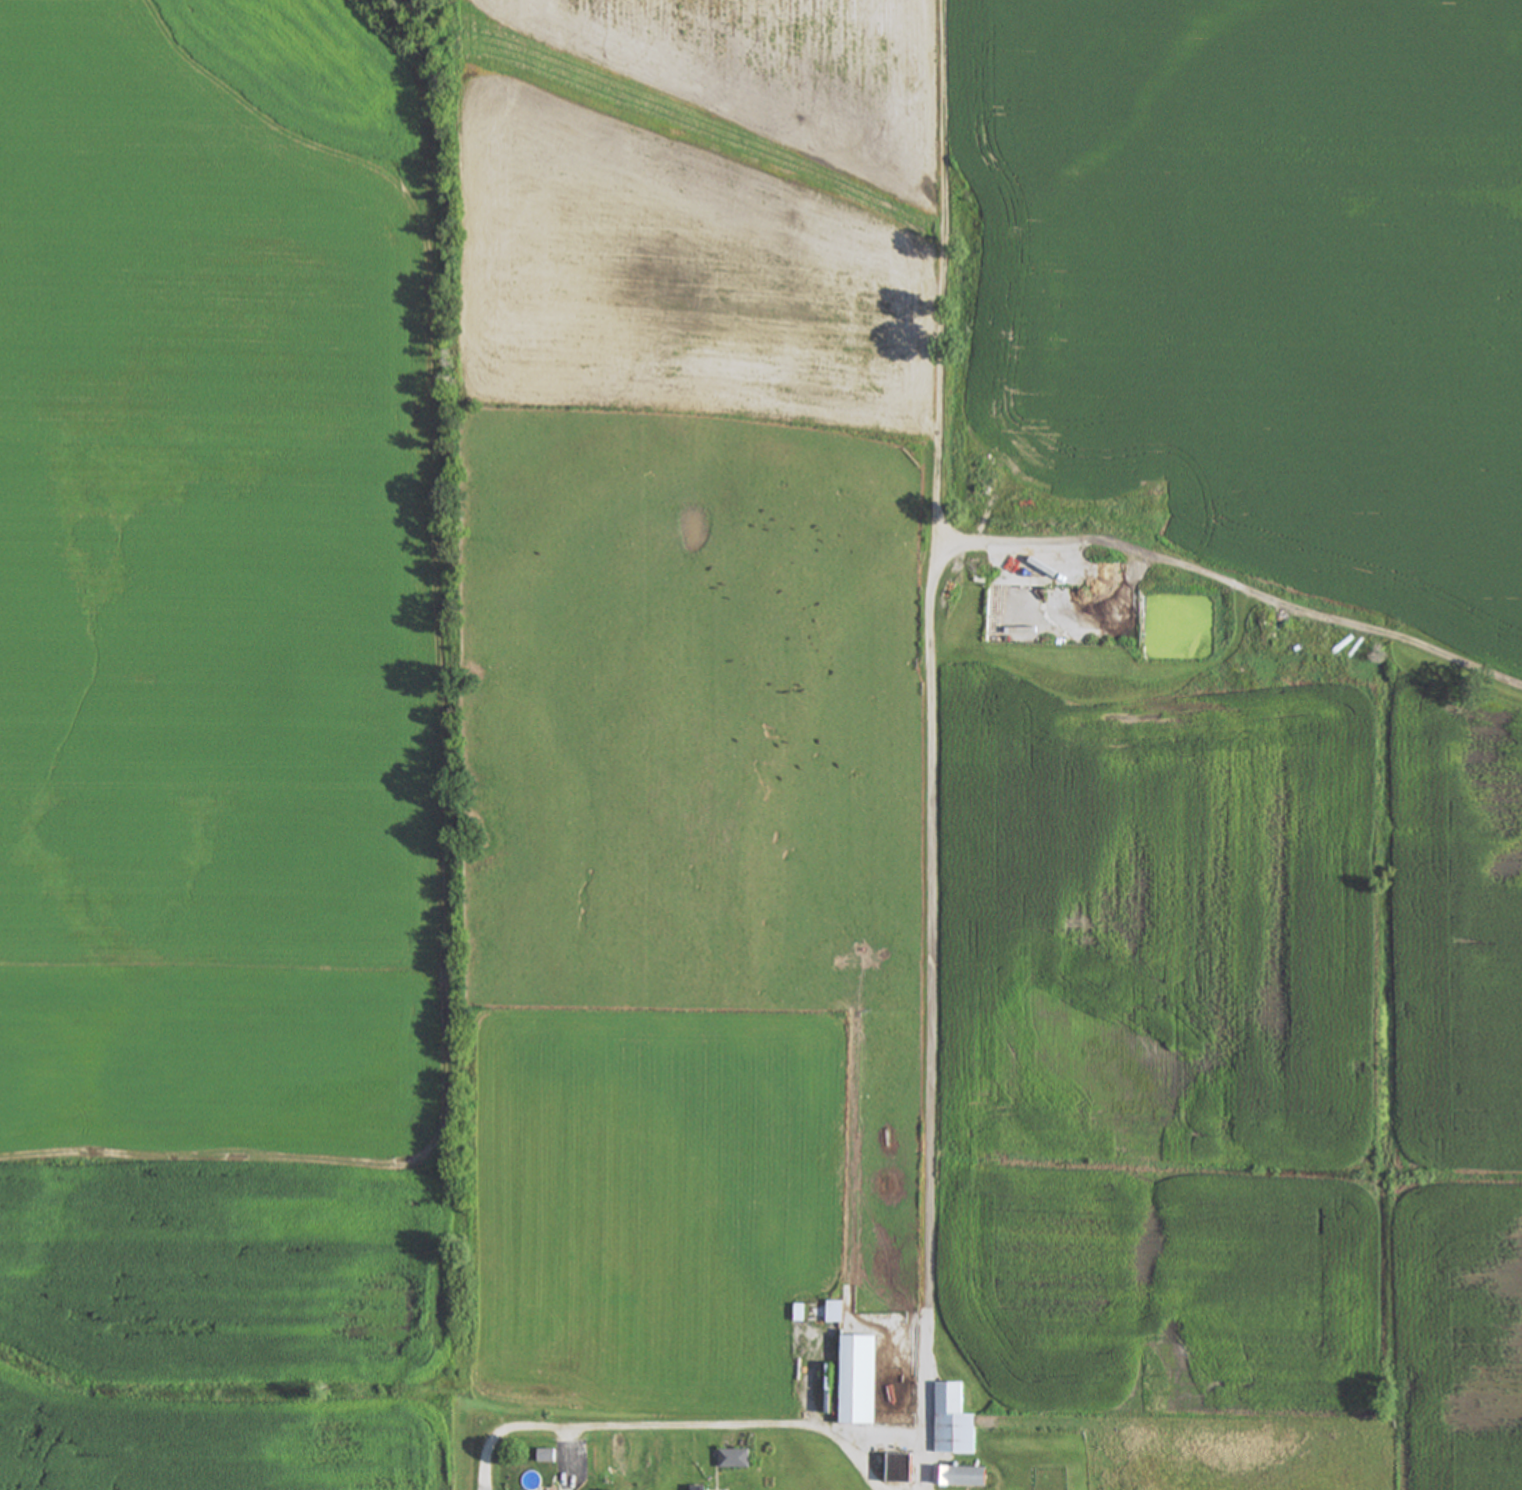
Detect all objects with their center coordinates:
road: (929, 655)
building: (838, 1313)
building: (861, 1381)
road: (923, 1404)
road: (671, 1422)
building: (954, 1423)
road: (906, 1434)
building: (733, 1460)
building: (962, 1478)
building: (700, 1488)

